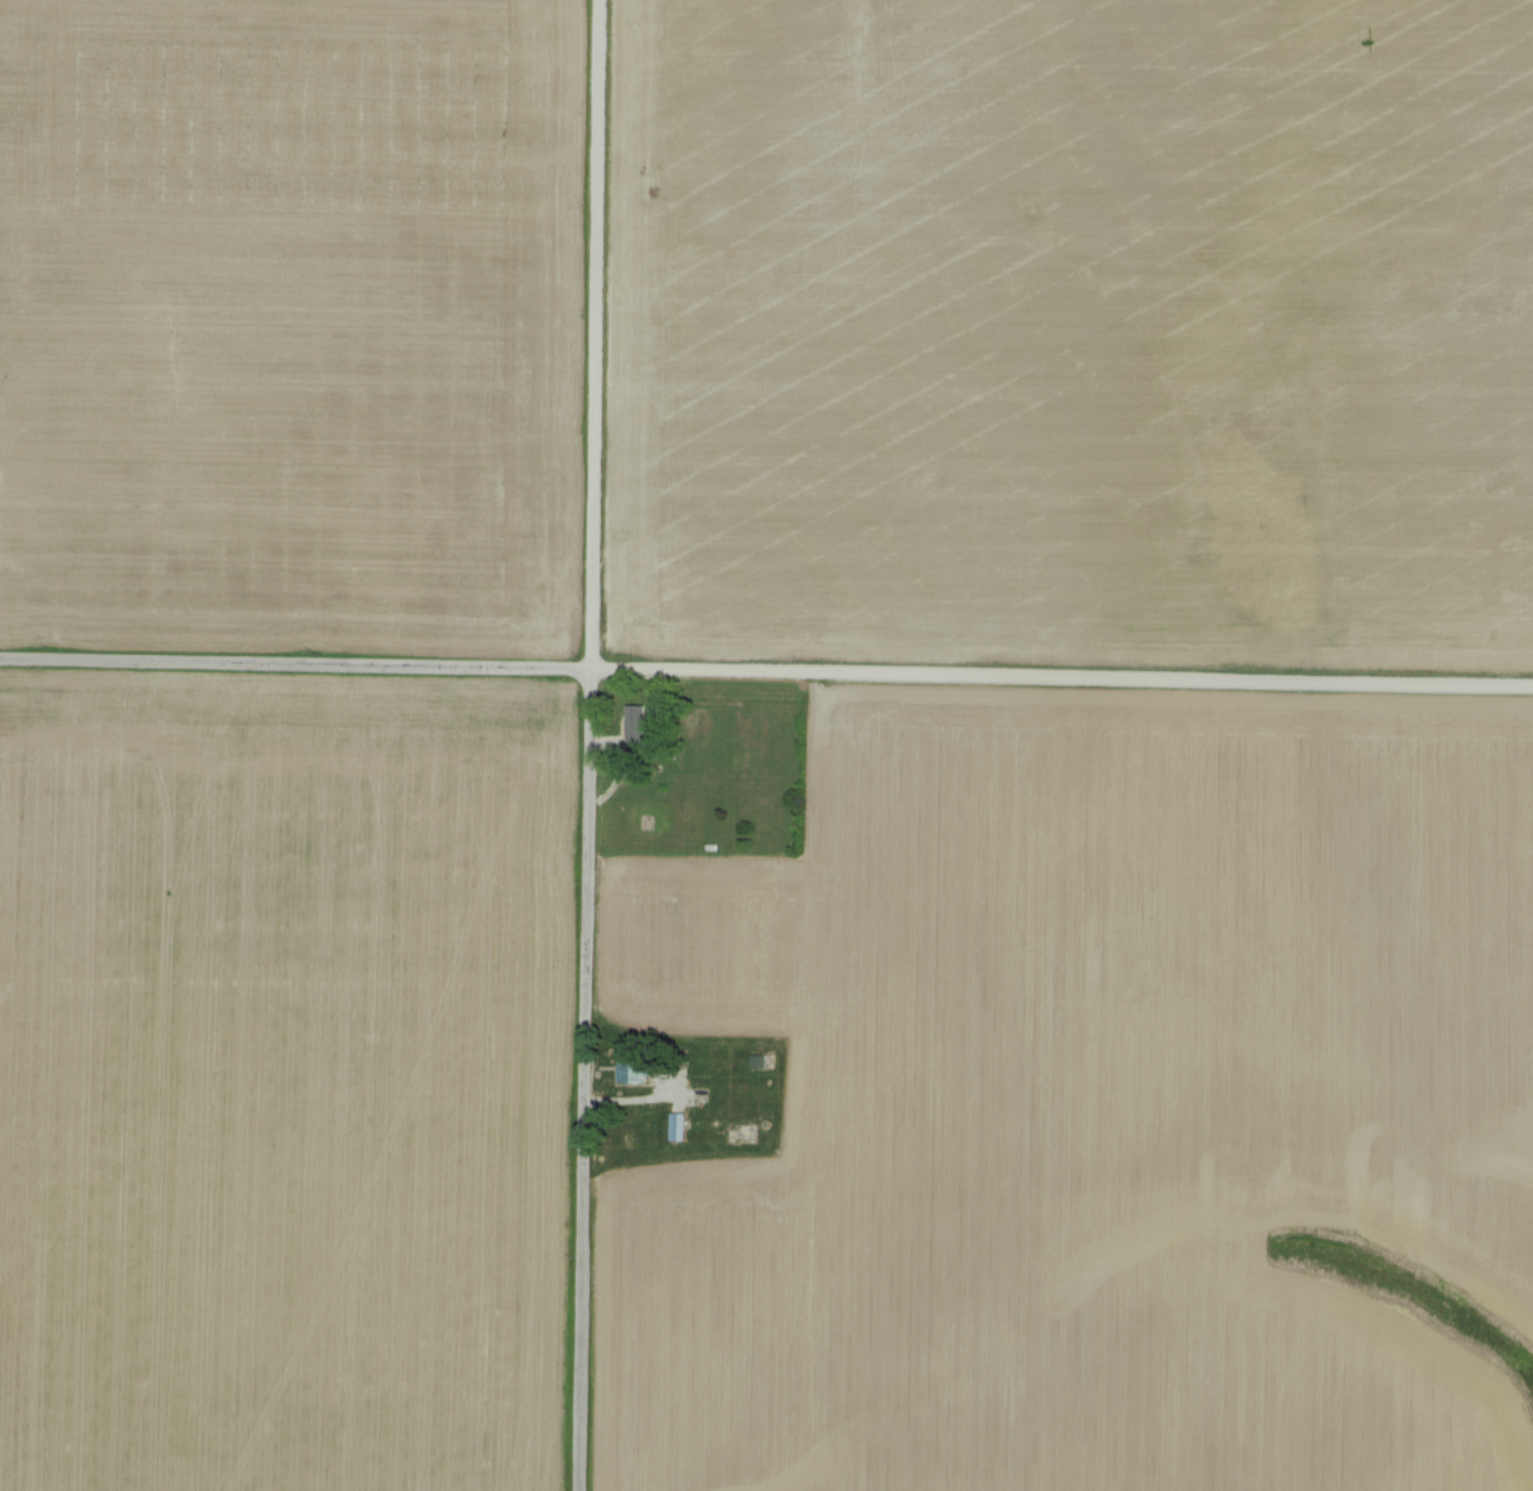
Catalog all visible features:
road: (766, 672)
building: (634, 721)
road: (591, 745)
building: (627, 1073)

